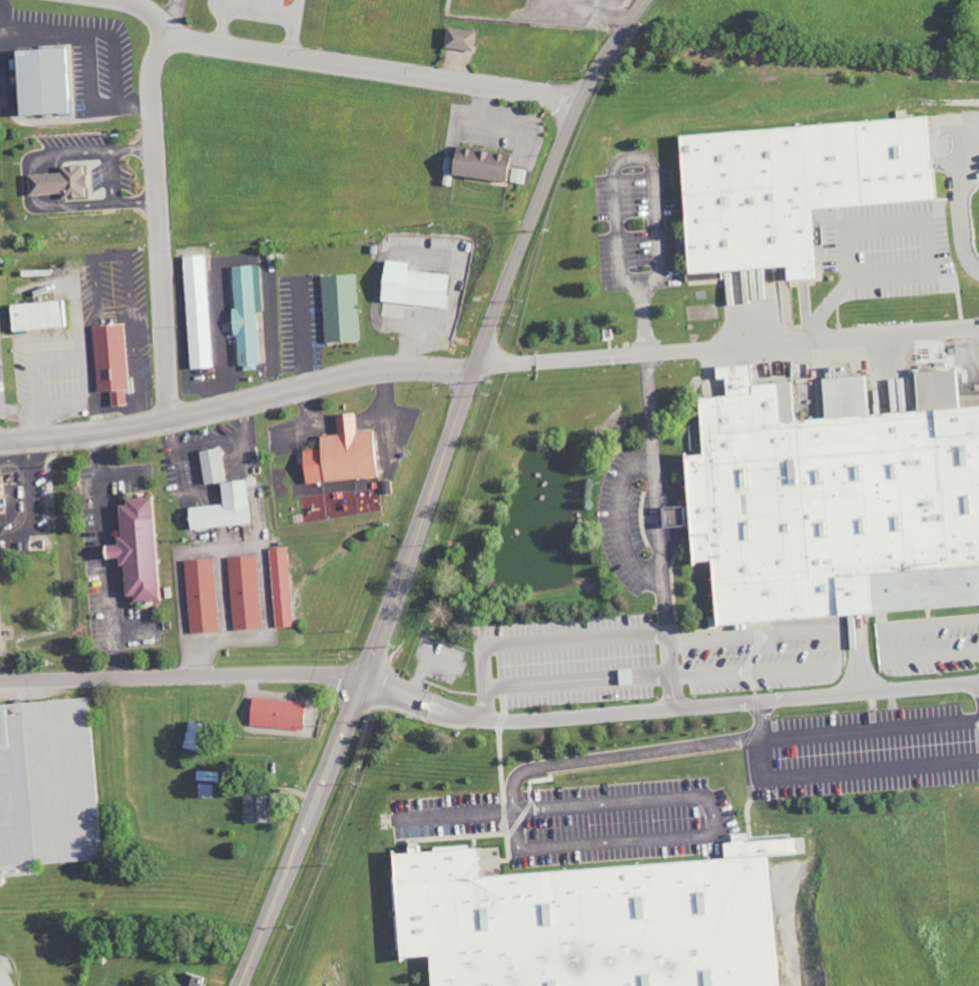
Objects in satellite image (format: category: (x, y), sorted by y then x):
power substation: (538, 10)
road: (260, 12)
building: (457, 38)
road: (89, 48)
road: (114, 56)
road: (348, 64)
building: (40, 80)
road: (89, 152)
road: (652, 174)
road: (112, 177)
building: (56, 182)
road: (33, 183)
building: (787, 187)
road: (92, 205)
road: (158, 227)
building: (409, 285)
building: (337, 307)
building: (196, 311)
building: (244, 314)
building: (36, 315)
road: (726, 345)
building: (109, 361)
road: (237, 405)
building: (340, 454)
road: (12, 460)
building: (210, 466)
road: (122, 475)
road: (432, 487)
road: (26, 488)
building: (831, 500)
building: (221, 508)
road: (618, 522)
road: (657, 528)
road: (12, 533)
building: (134, 550)
road: (259, 550)
road: (102, 559)
building: (280, 586)
building: (244, 592)
building: (201, 596)
road: (133, 627)
road: (540, 641)
road: (885, 642)
road: (836, 647)
road: (183, 678)
road: (576, 679)
road: (975, 688)
road: (669, 705)
building: (275, 713)
building: (191, 736)
road: (760, 737)
building: (33, 761)
road: (666, 768)
building: (205, 791)
building: (254, 808)
building: (588, 920)
building: (187, 980)

